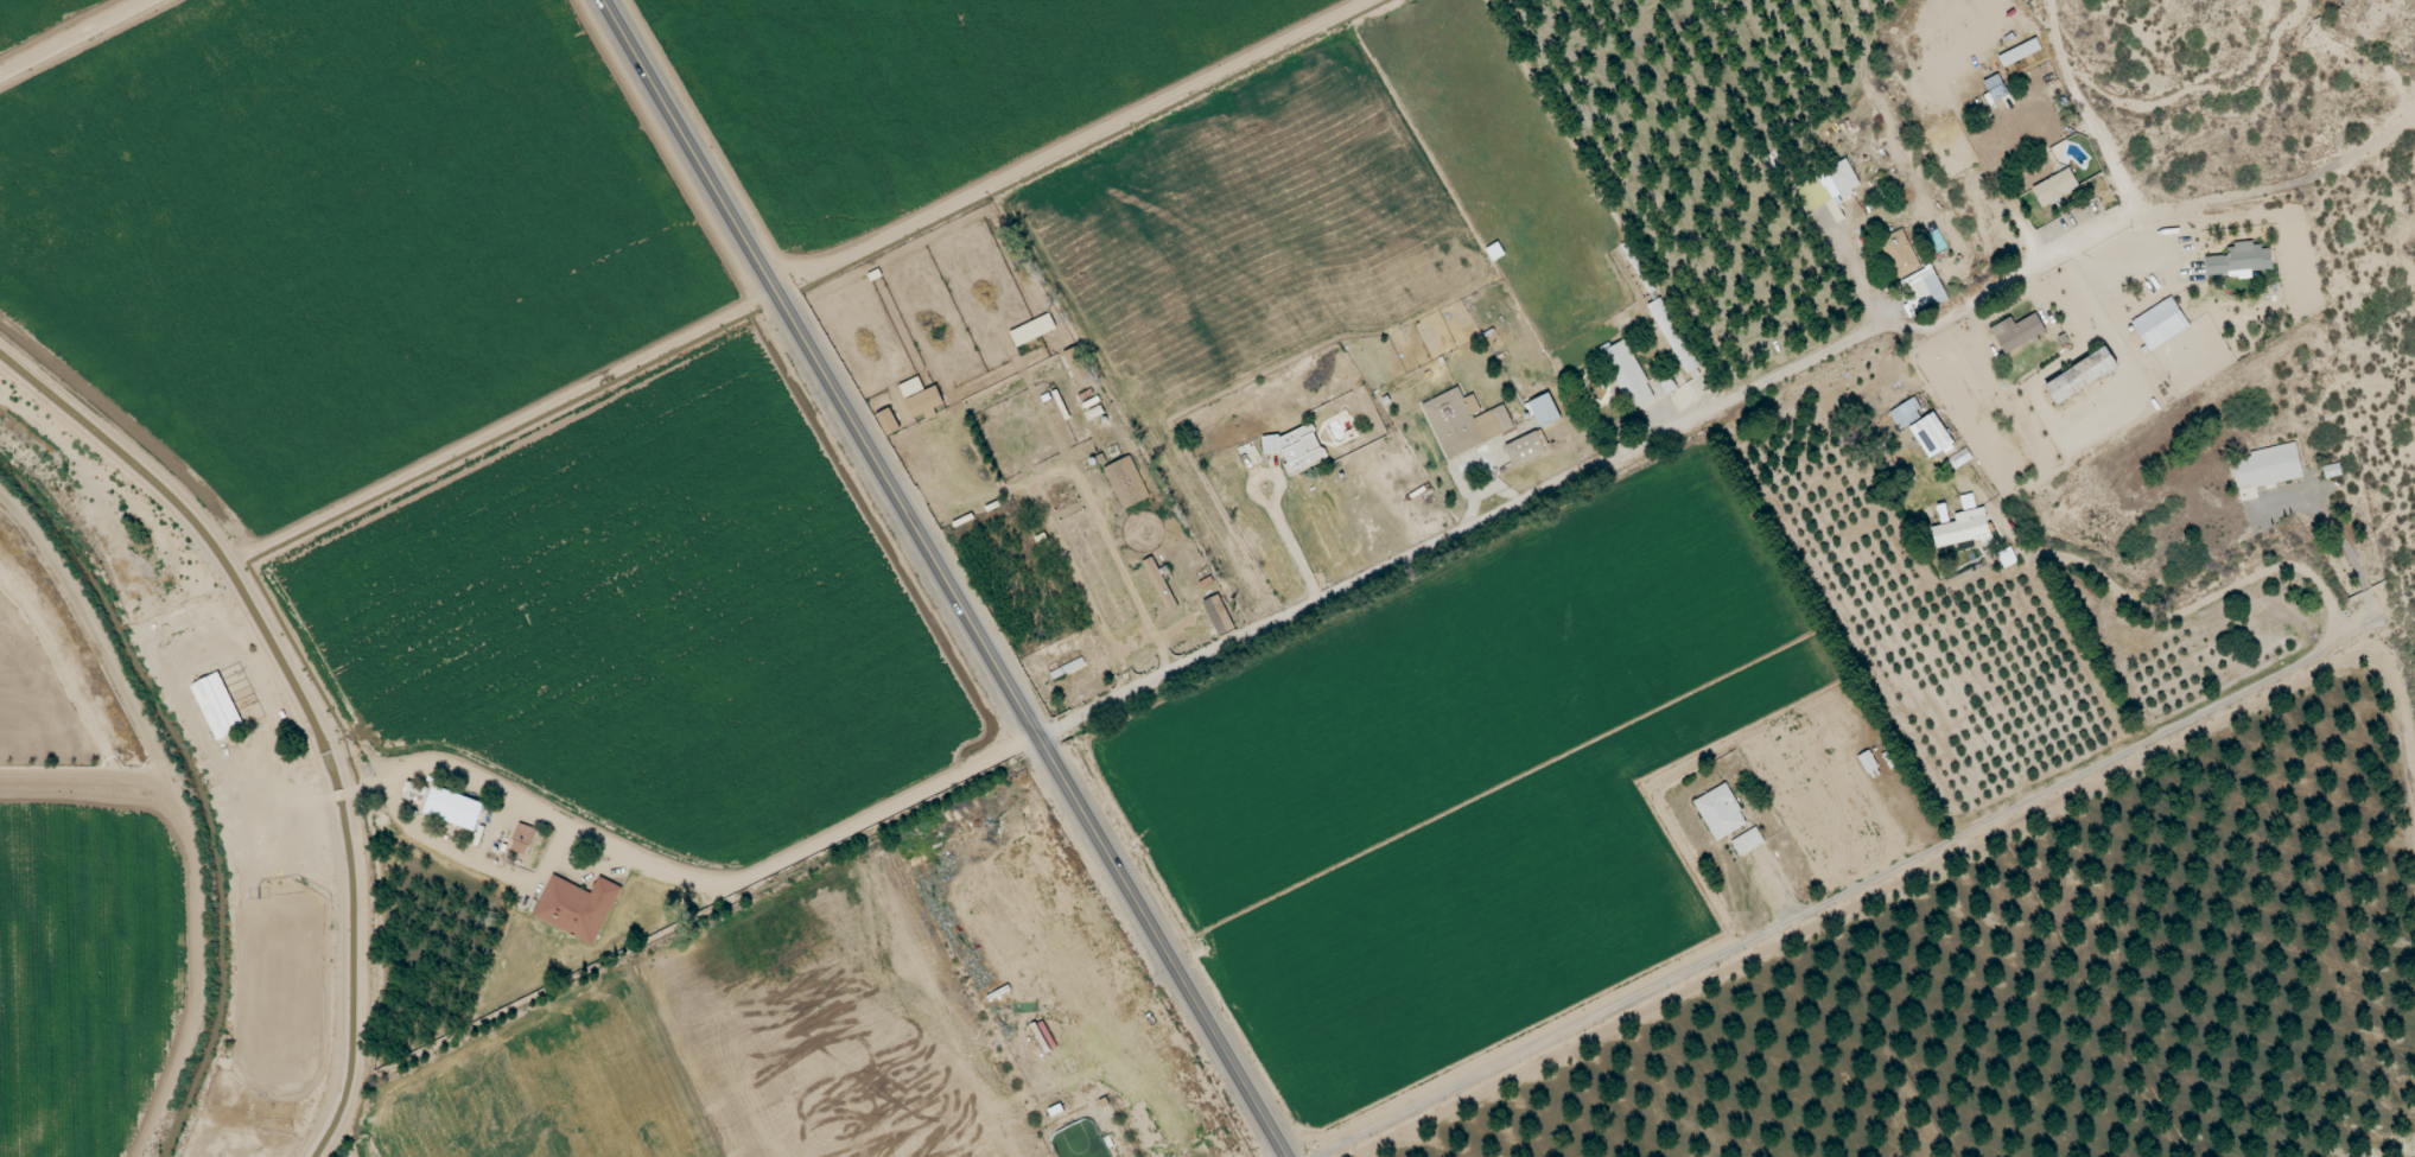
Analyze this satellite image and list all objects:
building: (2022, 53)
road: (2086, 104)
road: (1070, 141)
building: (1830, 187)
building: (2058, 187)
building: (2243, 260)
road: (1851, 265)
building: (2161, 325)
building: (1035, 331)
building: (2019, 332)
building: (2083, 375)
building: (1631, 376)
road: (1733, 396)
building: (923, 399)
building: (1544, 409)
building: (890, 422)
building: (1466, 424)
building: (1934, 434)
building: (1299, 441)
building: (1527, 450)
road: (549, 469)
building: (2267, 470)
building: (1127, 483)
road: (1258, 495)
road: (1296, 551)
building: (2008, 559)
road: (946, 578)
building: (1221, 617)
building: (1069, 670)
building: (214, 704)
road: (657, 763)
building: (1879, 763)
road: (2051, 787)
building: (450, 805)
building: (1722, 813)
building: (517, 838)
building: (1748, 844)
building: (564, 904)
road: (2298, 1093)

